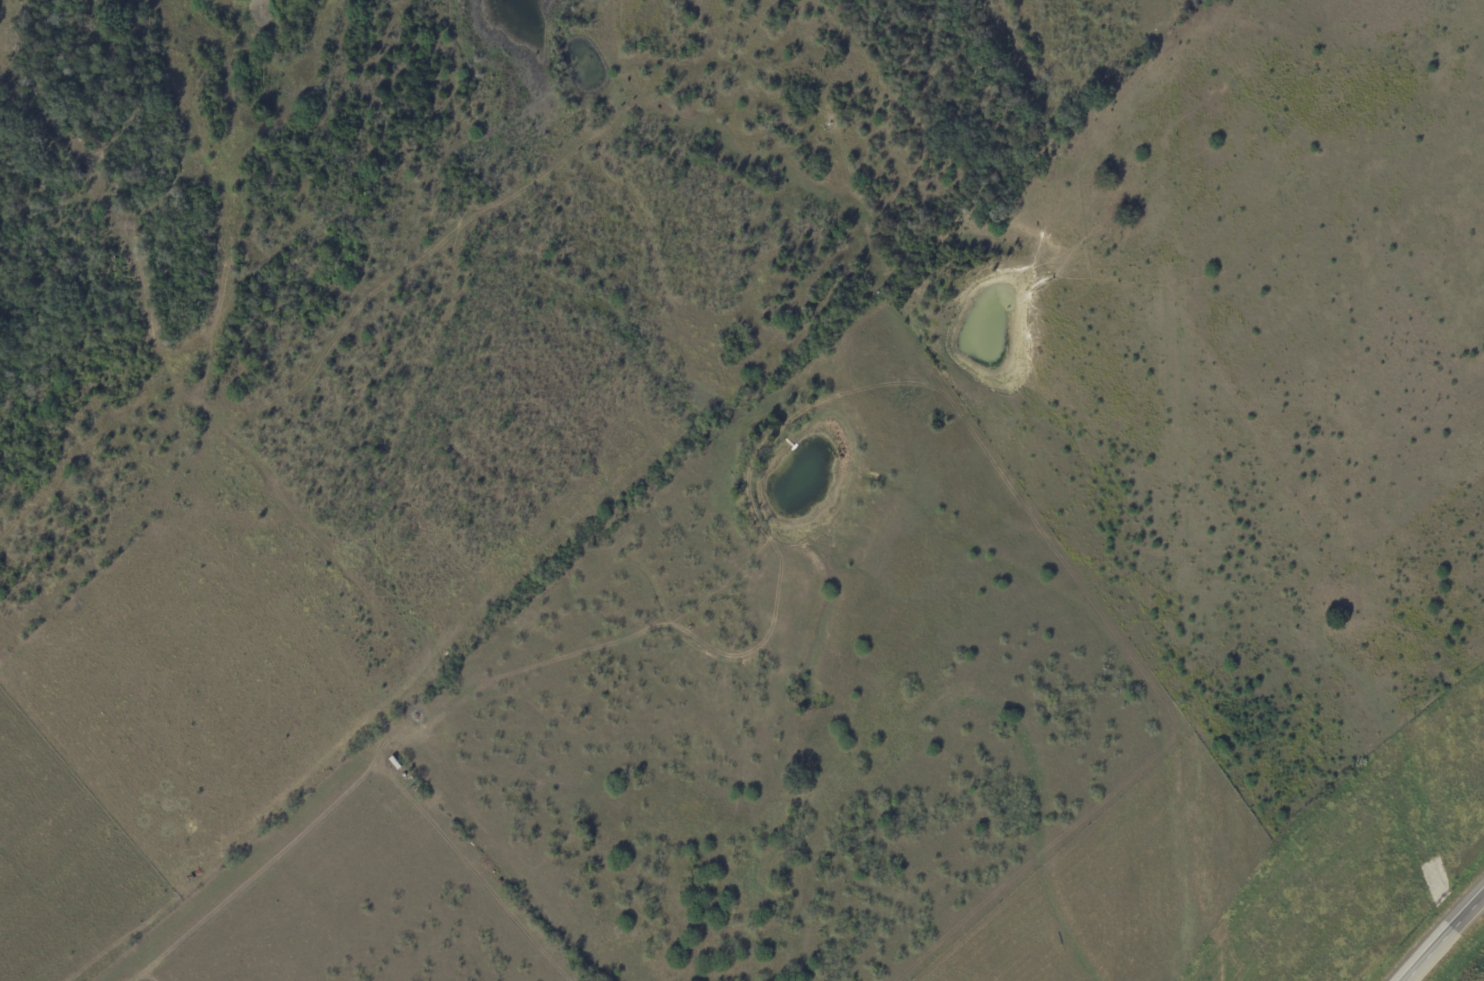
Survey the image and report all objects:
road: (1443, 937)

